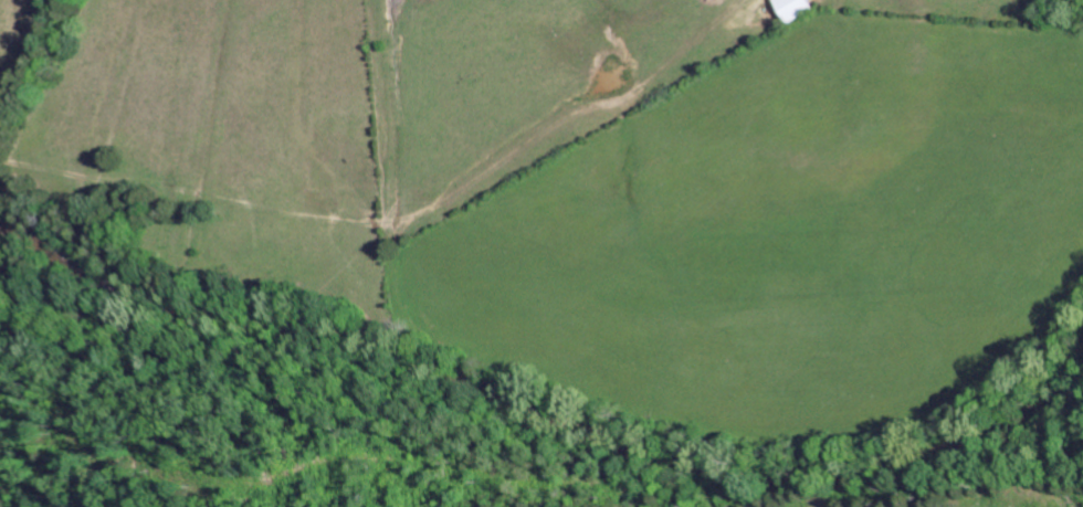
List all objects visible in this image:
building: (796, 10)

